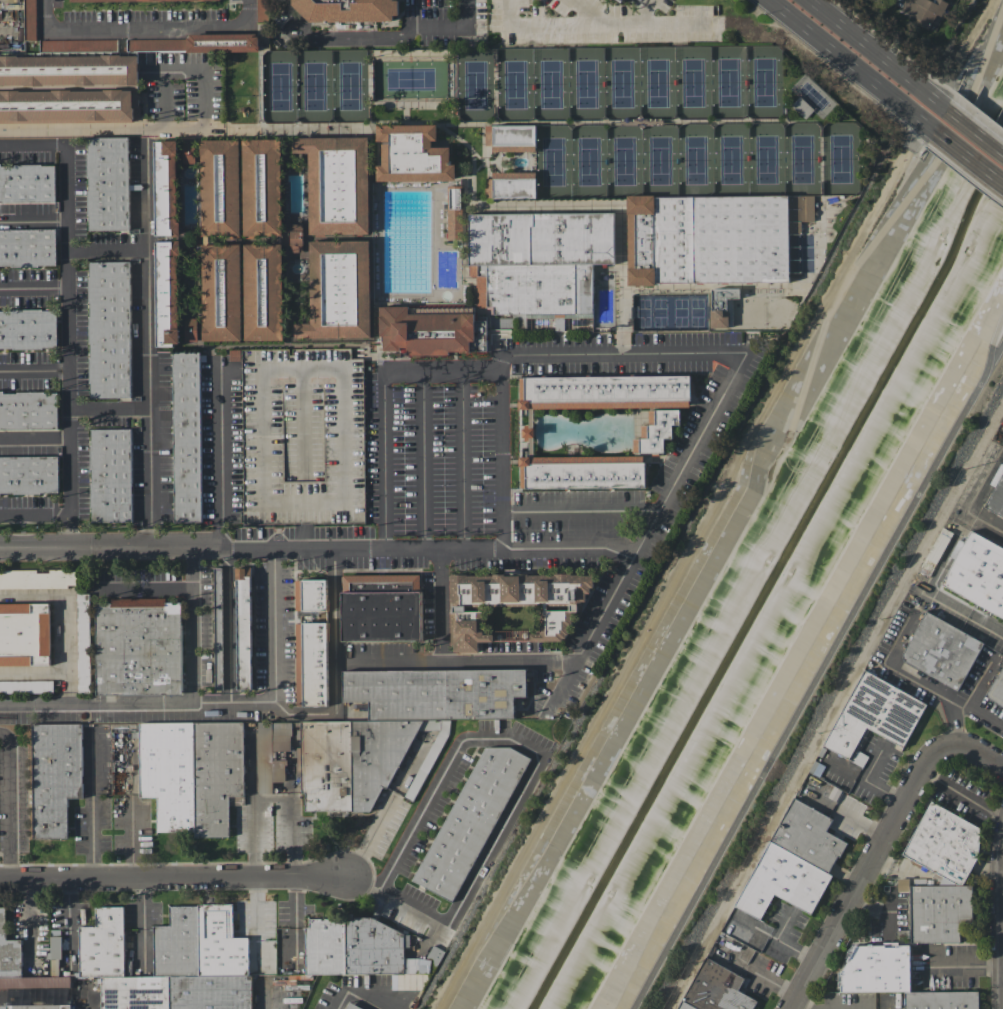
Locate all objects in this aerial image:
building: (120, 0)
building: (620, 2)
building: (347, 10)
road: (592, 10)
building: (923, 10)
road: (644, 12)
road: (249, 14)
road: (46, 16)
building: (30, 19)
road: (591, 25)
road: (148, 30)
road: (393, 37)
building: (222, 42)
building: (156, 45)
road: (965, 48)
road: (877, 54)
road: (849, 65)
road: (203, 69)
building: (69, 70)
building: (68, 107)
road: (82, 128)
road: (974, 129)
road: (286, 133)
building: (509, 137)
road: (32, 144)
building: (412, 154)
road: (968, 157)
building: (27, 183)
building: (107, 183)
building: (337, 183)
building: (511, 185)
building: (262, 187)
building: (166, 188)
building: (220, 188)
building: (454, 197)
road: (881, 200)
road: (33, 218)
building: (712, 237)
building: (27, 246)
road: (105, 248)
building: (537, 260)
road: (33, 286)
building: (339, 290)
building: (221, 292)
building: (263, 292)
building: (167, 293)
building: (719, 308)
road: (66, 327)
building: (28, 329)
building: (108, 329)
building: (190, 329)
building: (425, 330)
road: (146, 350)
road: (619, 352)
road: (997, 359)
road: (33, 370)
road: (442, 371)
building: (604, 391)
building: (28, 409)
road: (107, 411)
building: (655, 430)
building: (186, 436)
road: (33, 440)
road: (220, 457)
road: (689, 457)
road: (385, 459)
road: (424, 459)
road: (463, 459)
road: (501, 459)
building: (582, 471)
building: (28, 474)
building: (110, 474)
building: (301, 474)
road: (973, 498)
building: (996, 499)
road: (710, 504)
road: (581, 511)
road: (33, 512)
road: (68, 531)
road: (317, 549)
building: (979, 573)
building: (38, 578)
river: (767, 582)
road: (146, 588)
building: (311, 595)
road: (66, 598)
road: (441, 604)
building: (381, 607)
road: (606, 609)
building: (467, 618)
road: (190, 625)
road: (274, 625)
building: (243, 628)
road: (335, 631)
building: (24, 633)
road: (903, 640)
building: (82, 643)
building: (137, 646)
building: (942, 650)
road: (457, 661)
building: (311, 664)
road: (50, 669)
road: (823, 675)
building: (26, 686)
building: (997, 689)
road: (171, 702)
road: (976, 711)
building: (874, 715)
building: (382, 730)
building: (191, 773)
building: (54, 776)
road: (528, 778)
road: (963, 795)
road: (8, 805)
road: (91, 808)
road: (256, 810)
road: (292, 820)
building: (469, 820)
building: (945, 844)
road: (880, 845)
building: (794, 862)
road: (172, 880)
building: (902, 884)
building: (940, 912)
road: (256, 922)
building: (741, 935)
building: (55, 947)
building: (170, 961)
building: (20, 966)
building: (877, 970)
building: (408, 983)
building: (716, 989)
road: (352, 997)
road: (92, 998)
building: (941, 1000)
building: (347, 1005)
road: (801, 1005)
road: (891, 1005)
building: (38, 1006)

